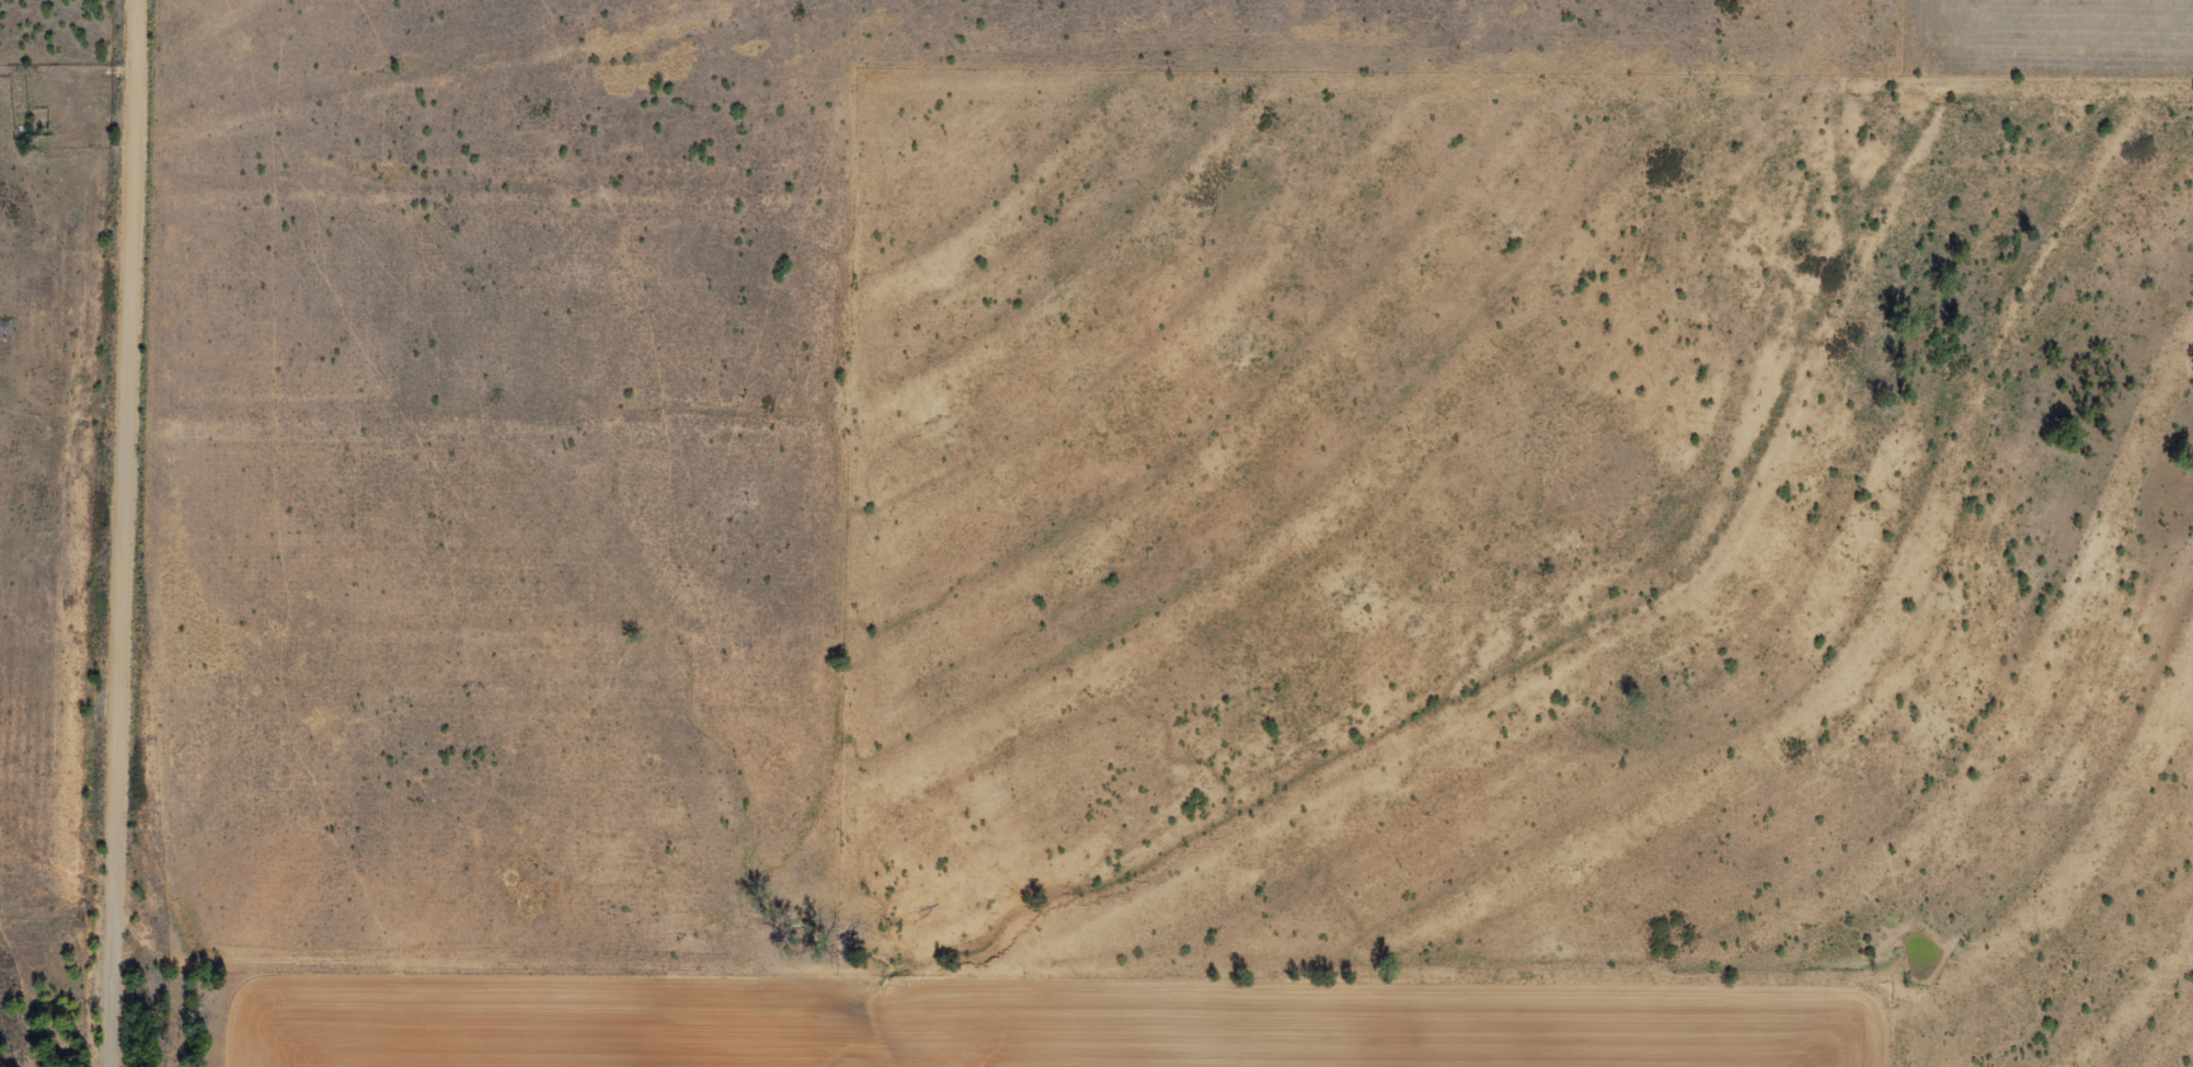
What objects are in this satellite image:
road: (123, 532)

